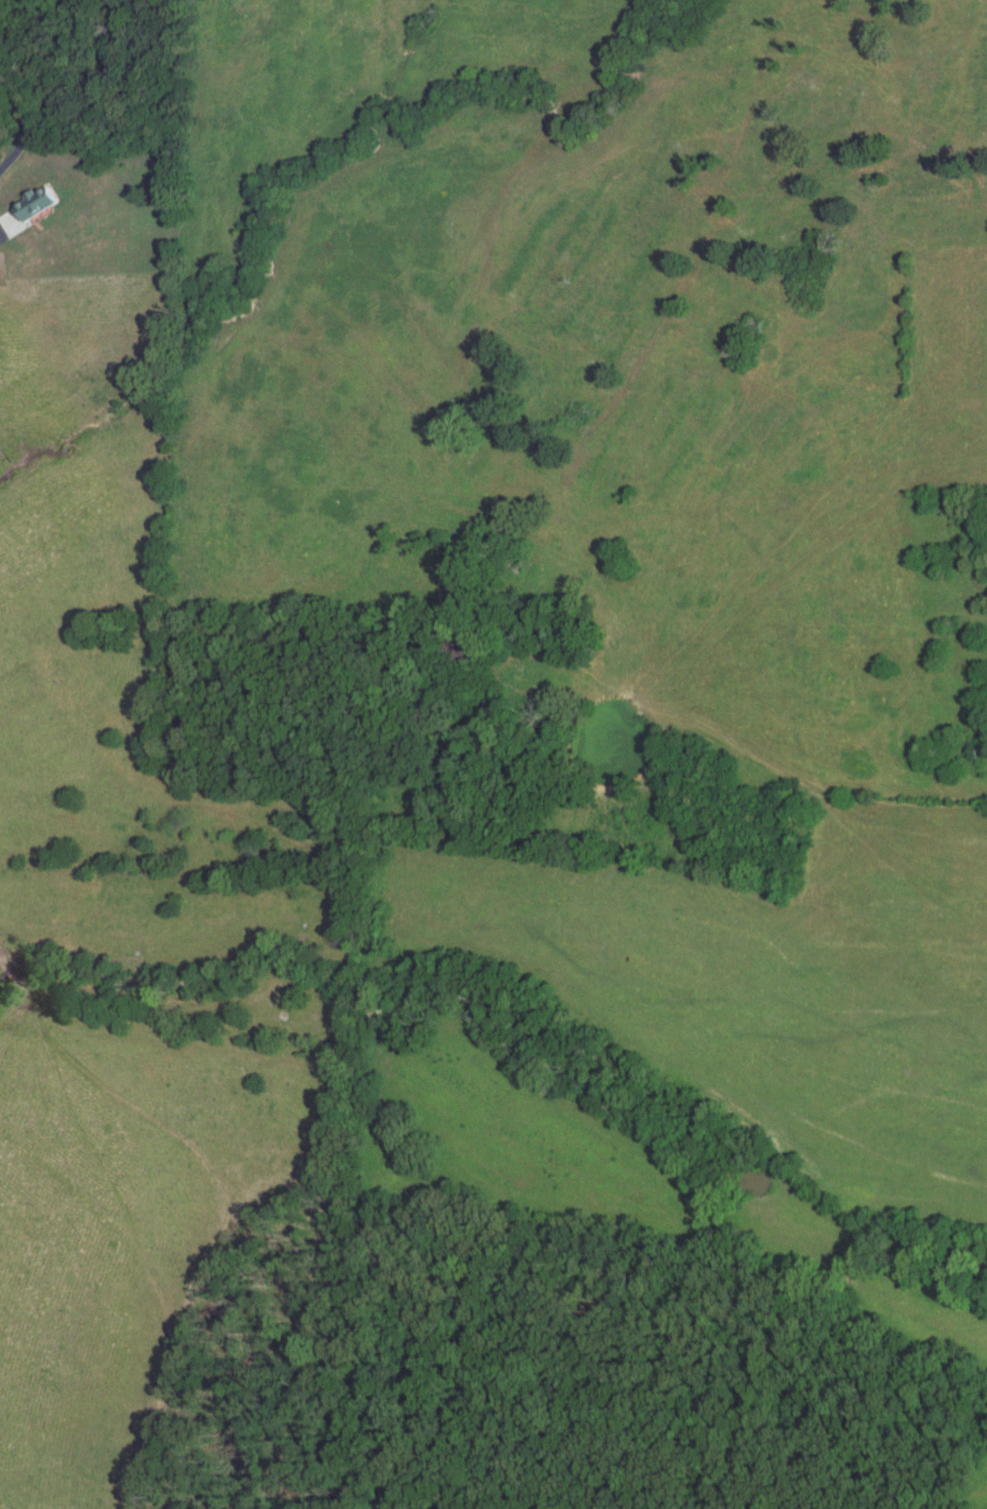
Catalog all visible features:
building: (32, 201)
road: (658, 330)
building: (493, 540)
building: (457, 652)

